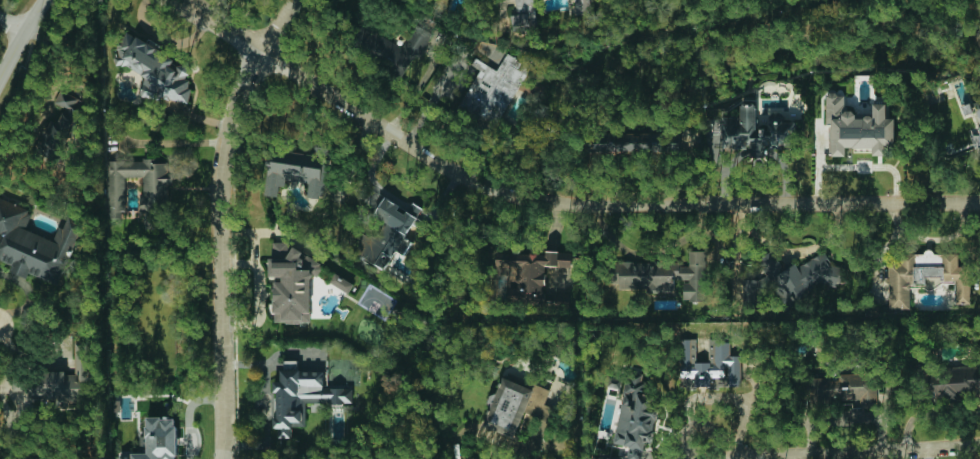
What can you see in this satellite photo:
building: (582, 7)
building: (524, 15)
road: (11, 26)
road: (18, 38)
building: (383, 45)
building: (155, 69)
building: (495, 88)
building: (69, 103)
building: (979, 112)
building: (779, 117)
building: (858, 127)
building: (58, 133)
building: (756, 135)
building: (979, 137)
road: (168, 141)
building: (624, 143)
road: (854, 165)
building: (298, 170)
building: (153, 198)
road: (552, 201)
road: (218, 220)
building: (391, 233)
building: (34, 244)
road: (648, 251)
road: (790, 252)
building: (525, 273)
building: (665, 275)
building: (926, 275)
building: (788, 279)
building: (292, 282)
building: (341, 282)
building: (334, 290)
building: (710, 364)
building: (66, 379)
building: (952, 382)
building: (843, 389)
building: (302, 397)
building: (508, 405)
road: (187, 415)
building: (634, 415)
building: (158, 439)
road: (859, 454)
building: (610, 458)

